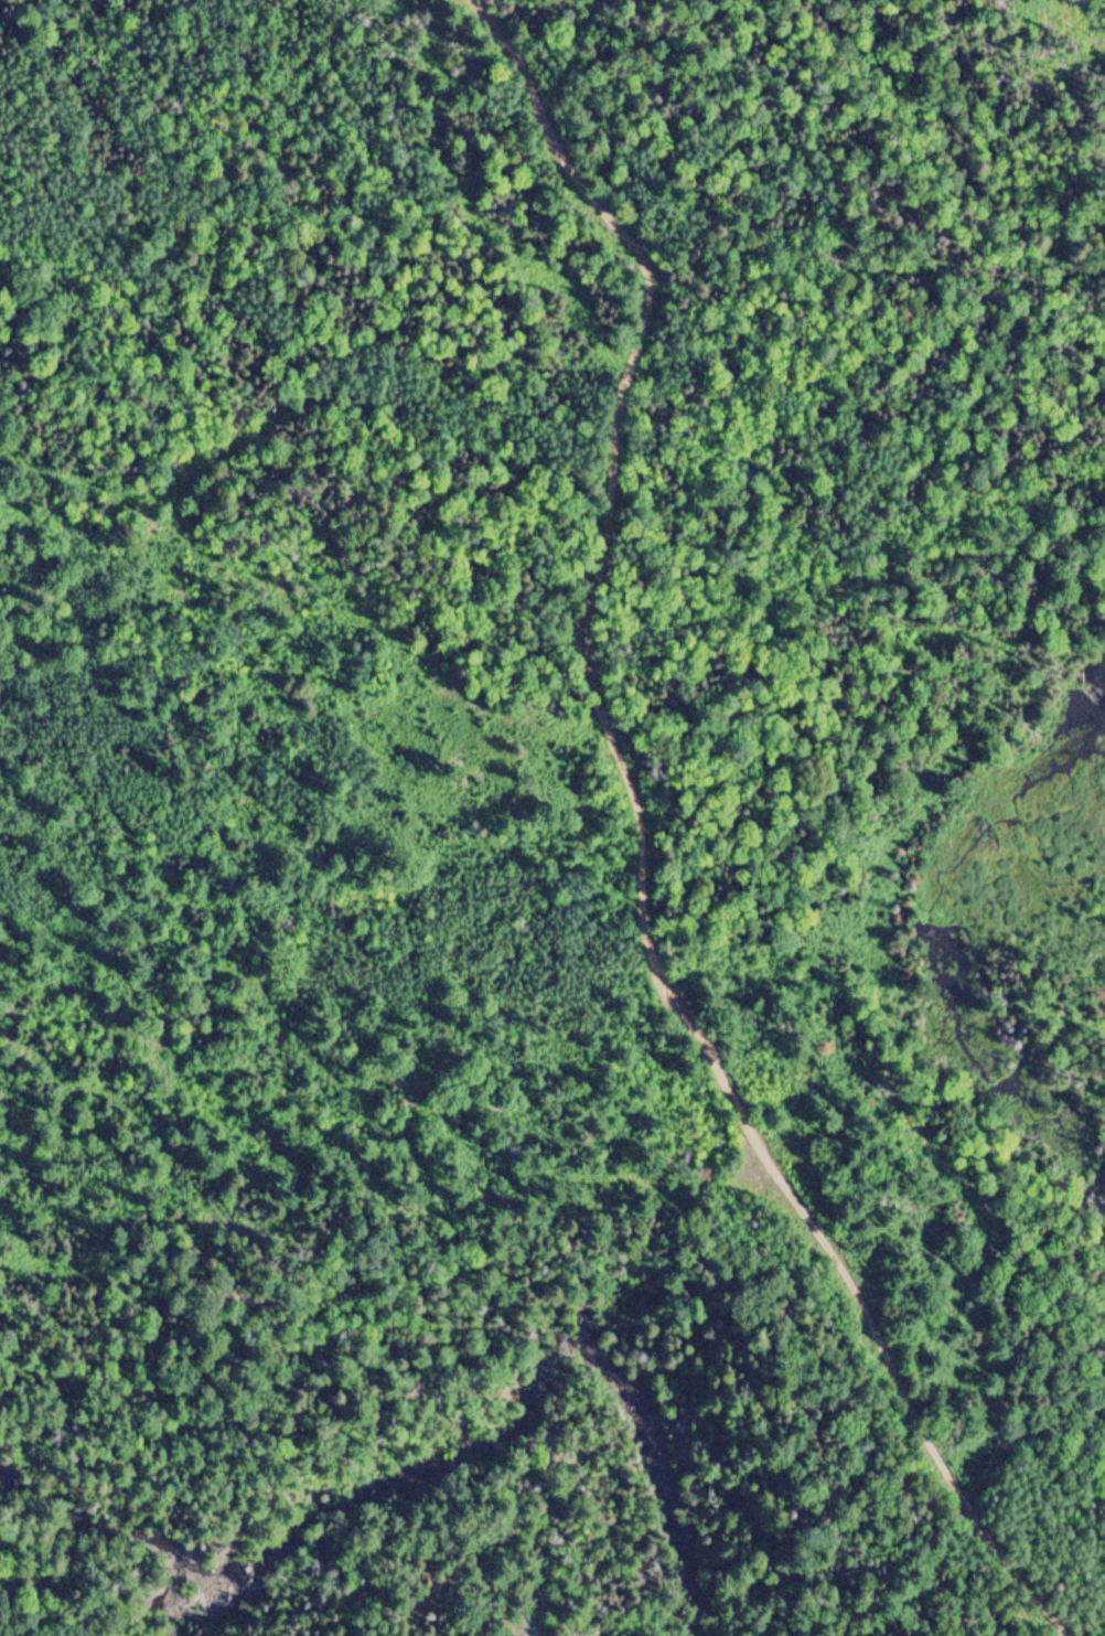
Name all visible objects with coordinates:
river: (447, 1499)

